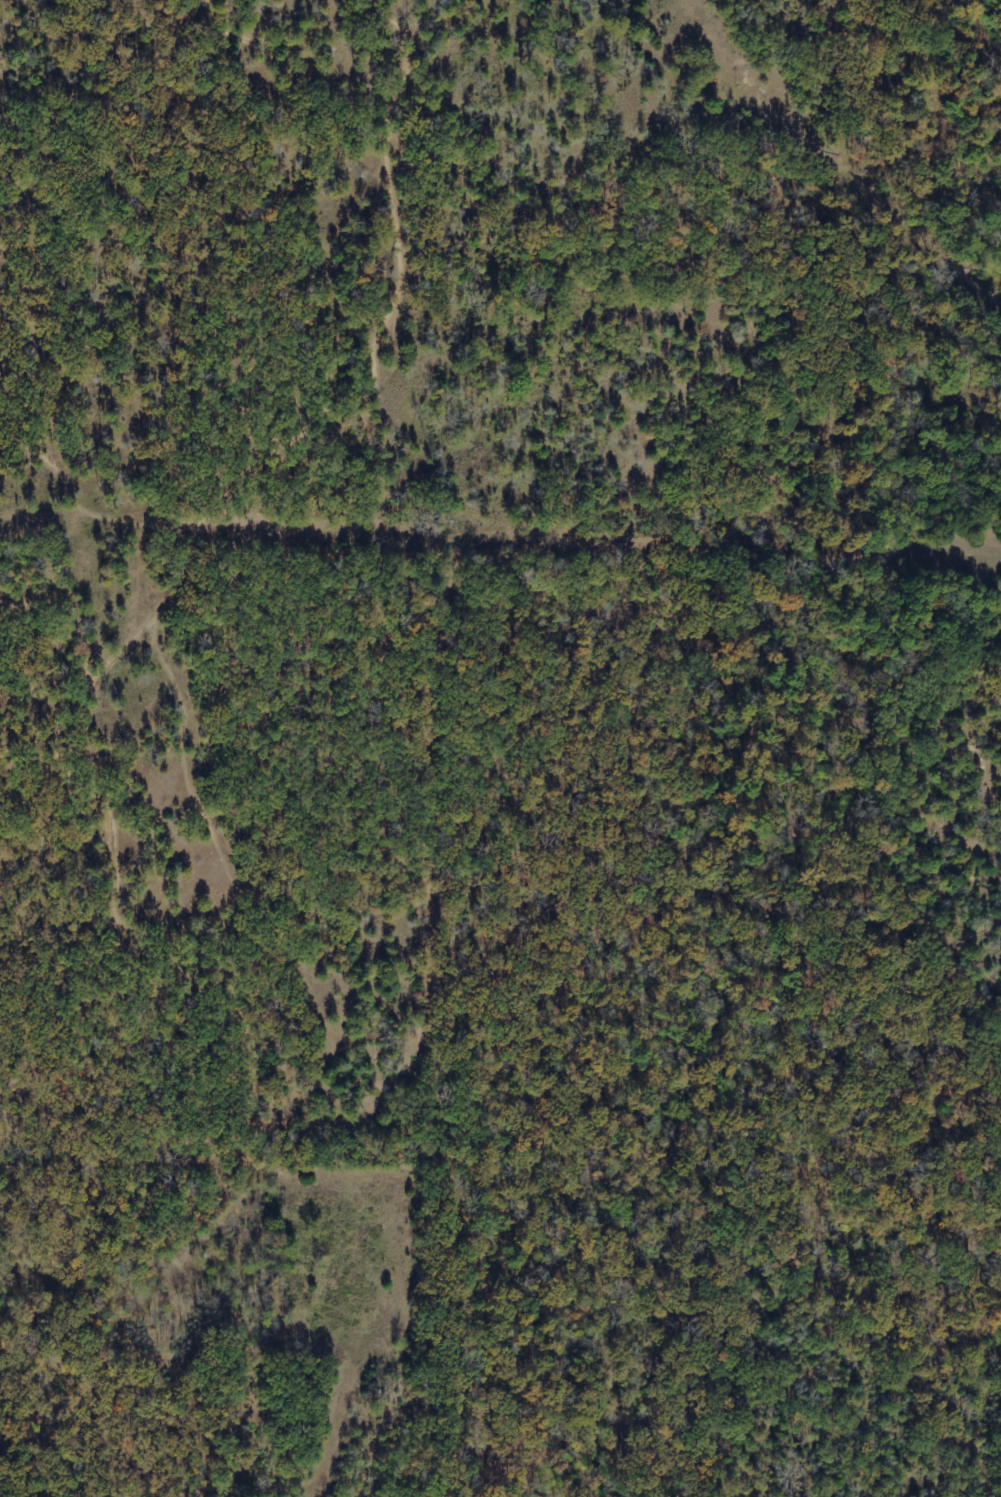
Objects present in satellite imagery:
road: (408, 48)
road: (287, 67)
road: (84, 351)
road: (391, 374)
park: (409, 471)
road: (98, 515)
road: (162, 611)
road: (36, 742)
road: (168, 962)

